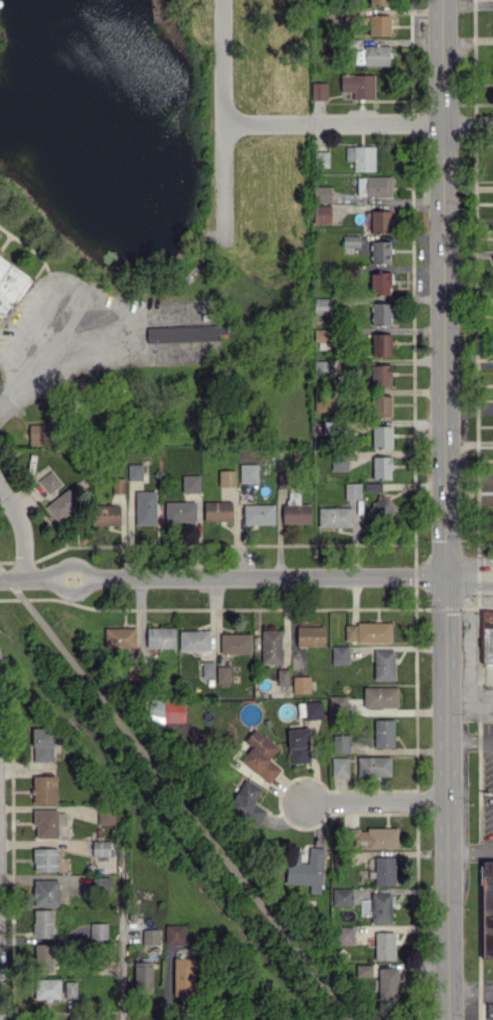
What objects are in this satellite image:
building: (378, 1)
building: (379, 25)
building: (370, 55)
building: (358, 85)
building: (318, 91)
road: (222, 122)
road: (358, 122)
building: (360, 157)
building: (321, 158)
building: (373, 185)
building: (321, 194)
building: (321, 213)
building: (380, 221)
building: (350, 241)
building: (380, 252)
building: (379, 282)
building: (10, 283)
building: (322, 306)
building: (380, 313)
building: (184, 332)
building: (321, 335)
building: (380, 344)
road: (31, 345)
building: (381, 375)
building: (326, 402)
building: (380, 406)
building: (39, 434)
building: (381, 436)
building: (339, 463)
building: (381, 467)
building: (134, 471)
building: (248, 473)
building: (226, 478)
building: (49, 482)
building: (190, 483)
building: (372, 486)
building: (352, 490)
building: (62, 504)
building: (144, 507)
building: (380, 509)
building: (217, 510)
building: (295, 510)
road: (446, 510)
building: (180, 511)
building: (258, 513)
building: (105, 514)
building: (334, 516)
road: (21, 530)
road: (69, 567)
road: (469, 567)
road: (270, 575)
road: (22, 578)
road: (469, 581)
road: (70, 588)
building: (367, 631)
building: (310, 635)
building: (160, 636)
building: (487, 636)
building: (119, 637)
building: (194, 640)
building: (235, 643)
building: (270, 646)
building: (339, 654)
road: (470, 656)
building: (383, 664)
building: (207, 669)
building: (222, 674)
building: (282, 676)
building: (300, 684)
building: (380, 696)
road: (470, 702)
building: (339, 705)
building: (313, 709)
building: (172, 711)
building: (383, 732)
road: (470, 738)
building: (341, 743)
building: (41, 744)
building: (298, 745)
building: (260, 755)
building: (339, 766)
building: (373, 766)
building: (44, 789)
road: (175, 795)
road: (378, 800)
building: (246, 802)
building: (106, 815)
building: (48, 822)
building: (373, 837)
building: (100, 848)
road: (471, 849)
building: (45, 859)
building: (305, 869)
building: (384, 870)
building: (102, 883)
building: (45, 892)
building: (342, 896)
building: (380, 908)
building: (487, 908)
road: (121, 918)
building: (42, 923)
building: (97, 930)
building: (174, 934)
building: (344, 934)
building: (150, 936)
building: (384, 945)
building: (43, 957)
building: (364, 970)
building: (142, 976)
building: (184, 976)
building: (387, 983)
building: (47, 988)
building: (70, 989)
road: (471, 993)
building: (490, 1011)

